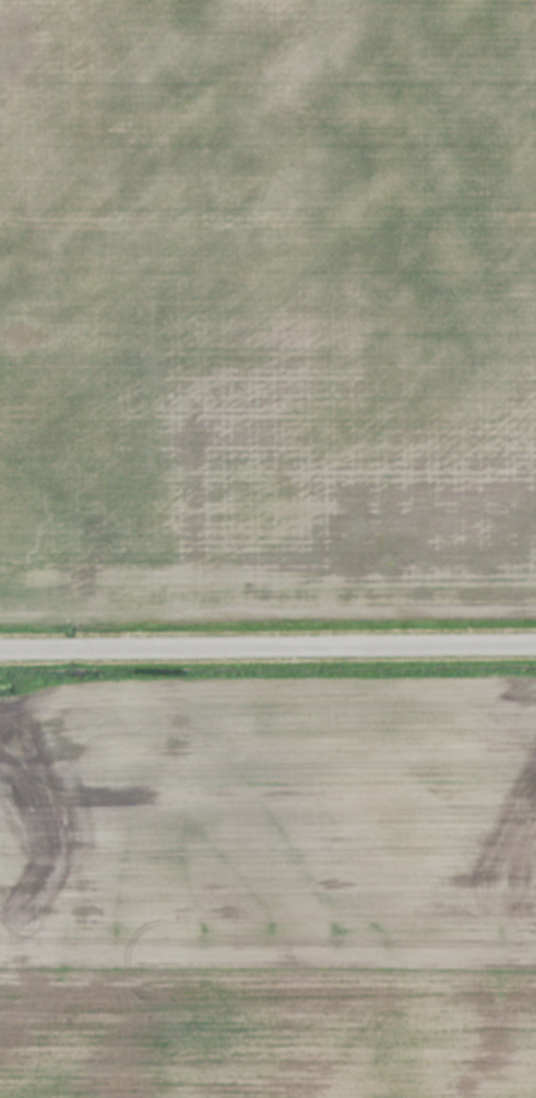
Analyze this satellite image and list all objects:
road: (267, 649)

